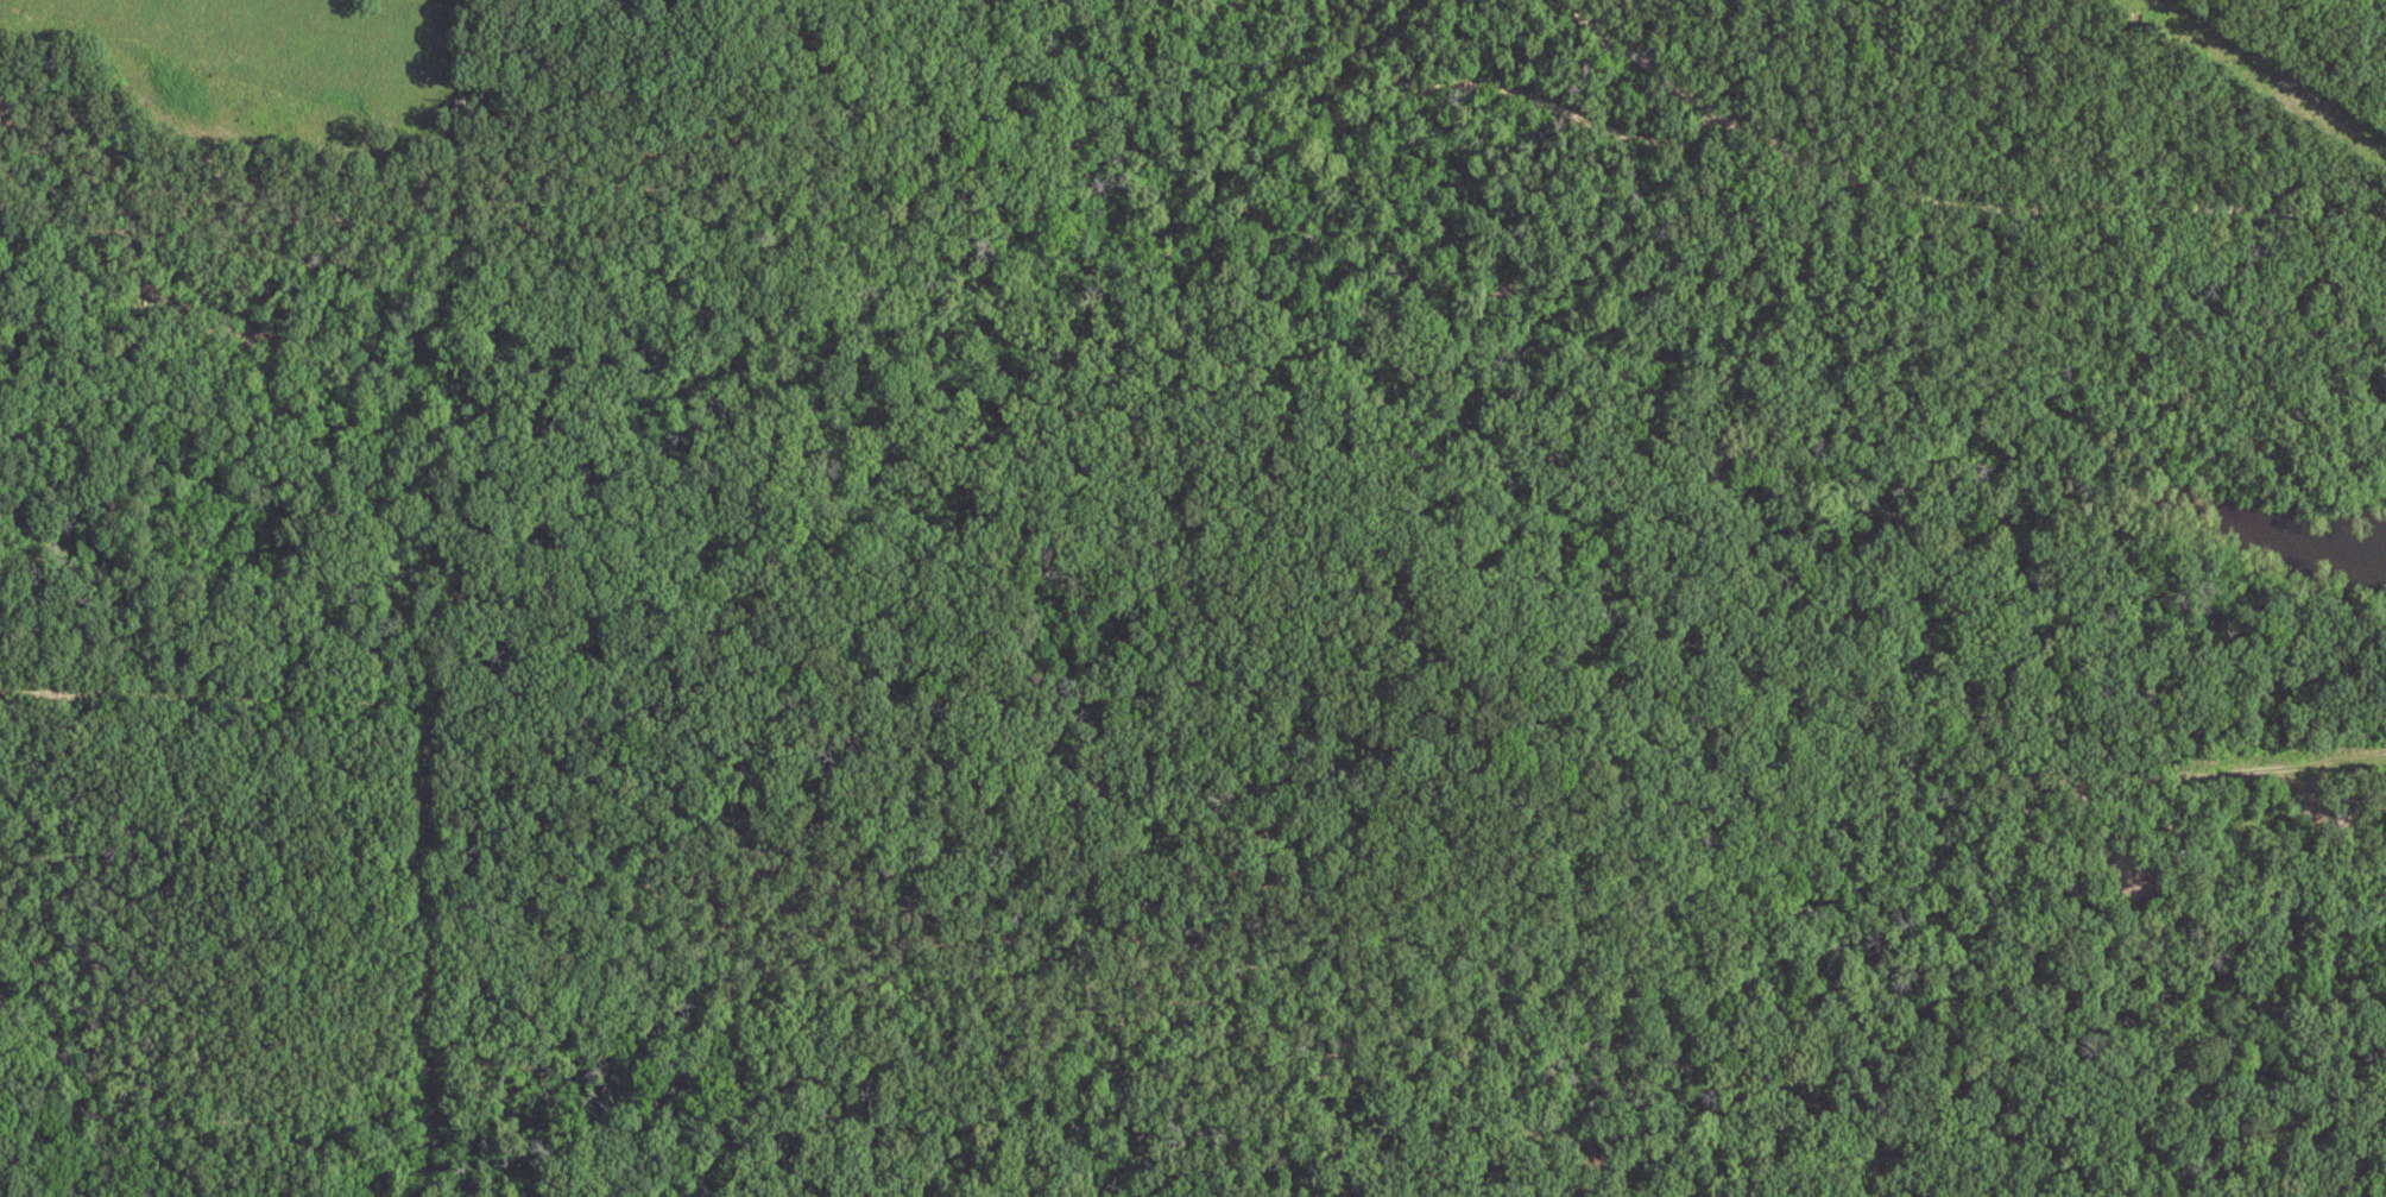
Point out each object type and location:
road: (1633, 62)
road: (1271, 300)

